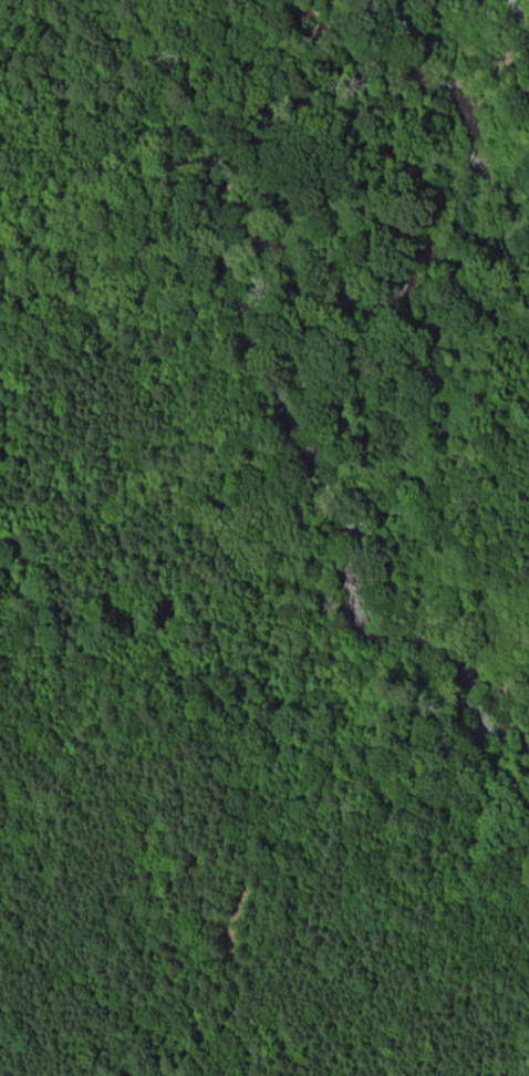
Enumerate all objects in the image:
river: (341, 421)

